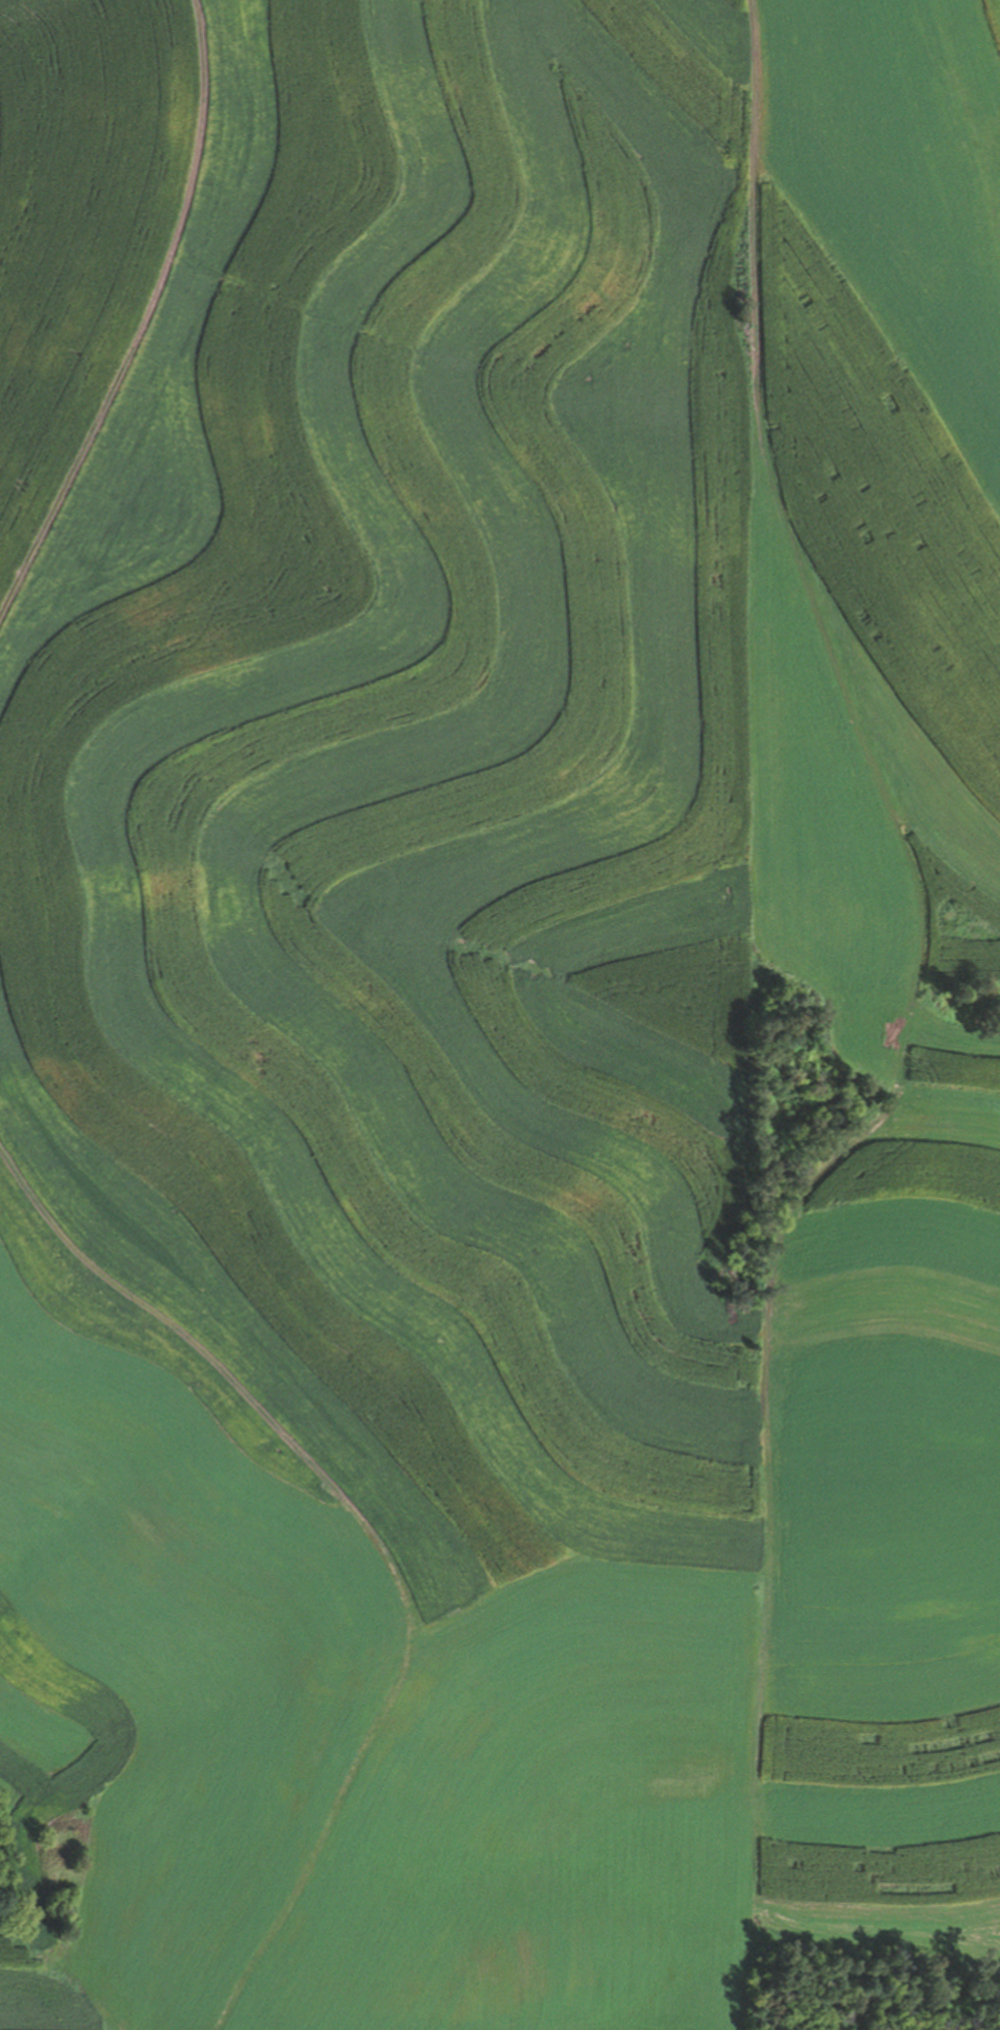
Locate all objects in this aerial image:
road: (920, 967)

